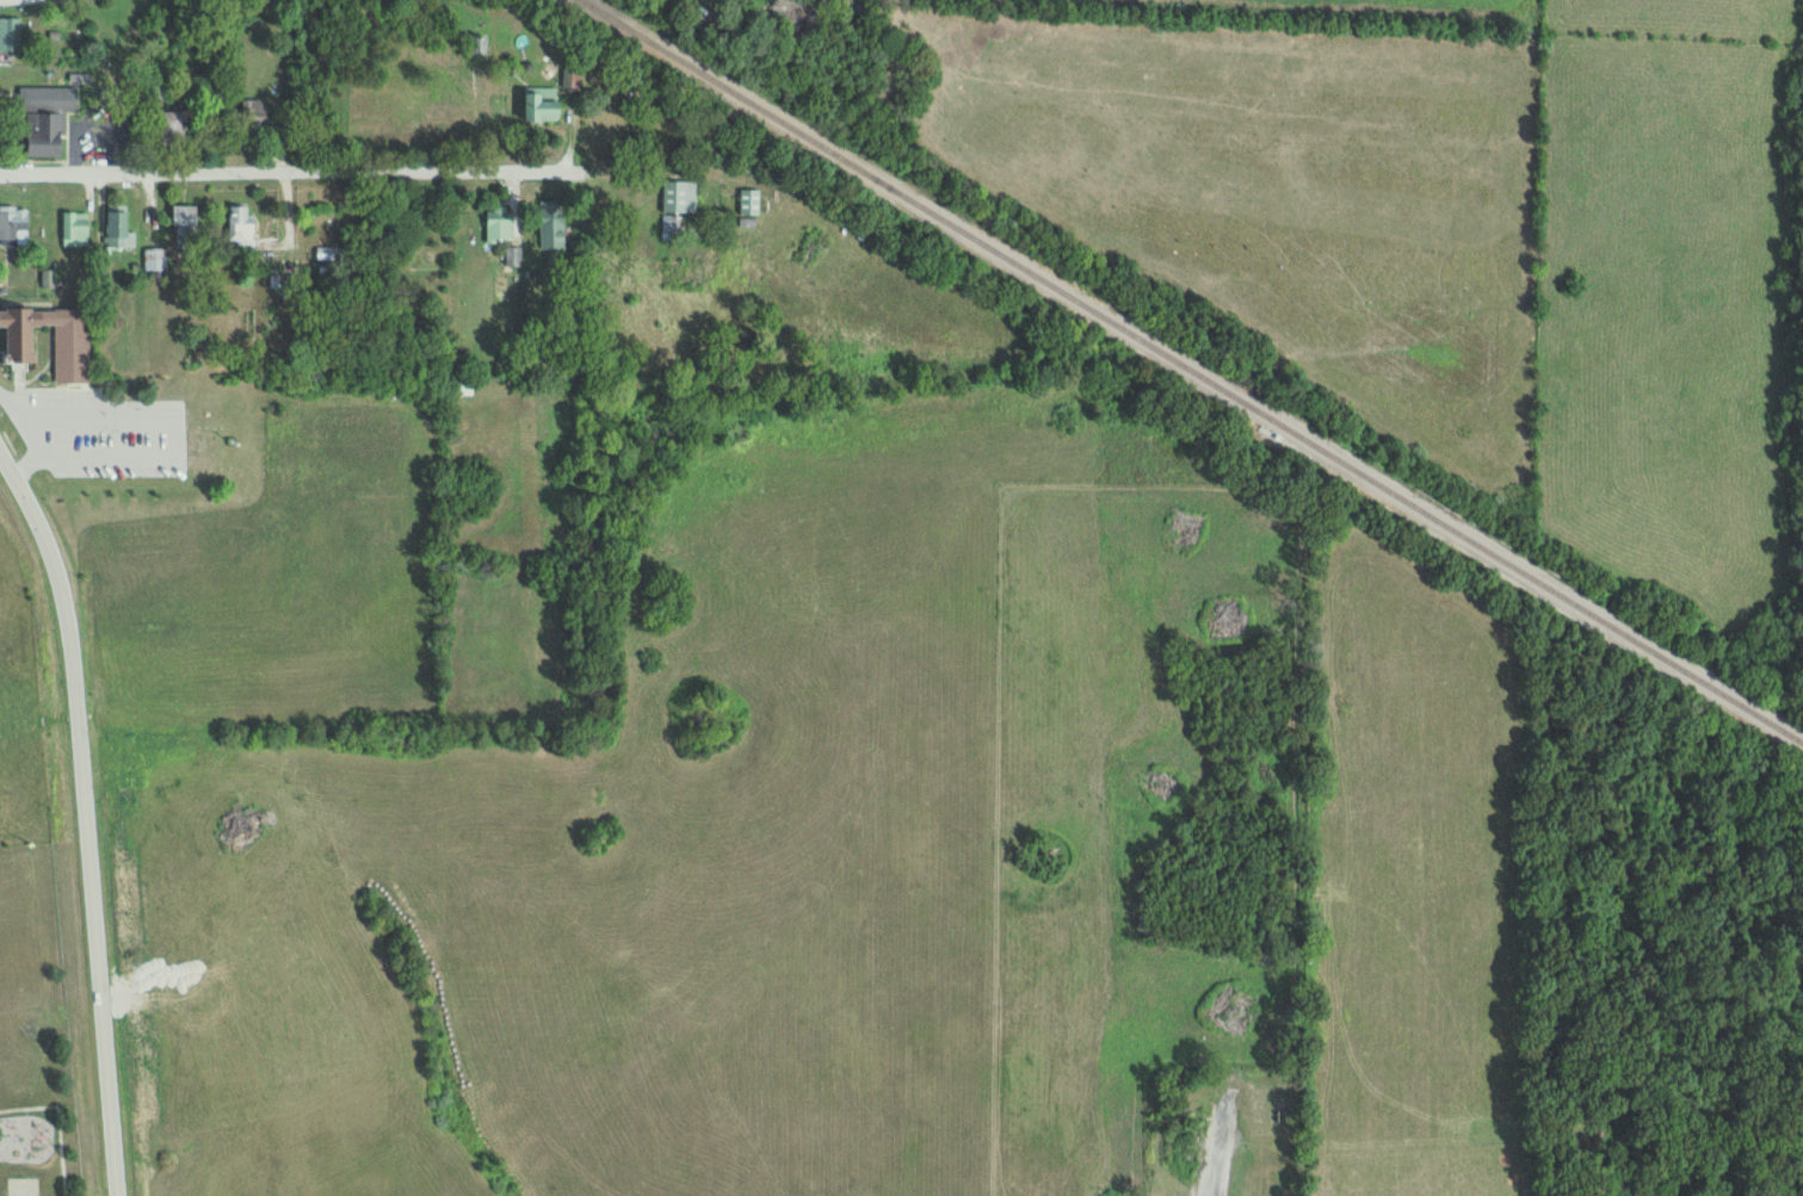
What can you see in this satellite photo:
building: (10, 33)
building: (545, 104)
building: (257, 113)
building: (48, 119)
building: (175, 129)
road: (264, 171)
building: (675, 217)
building: (14, 224)
building: (117, 224)
building: (501, 224)
building: (189, 225)
building: (554, 229)
building: (76, 230)
building: (243, 230)
building: (328, 256)
building: (513, 256)
building: (156, 259)
building: (19, 347)
railway: (1196, 371)
road: (85, 817)

